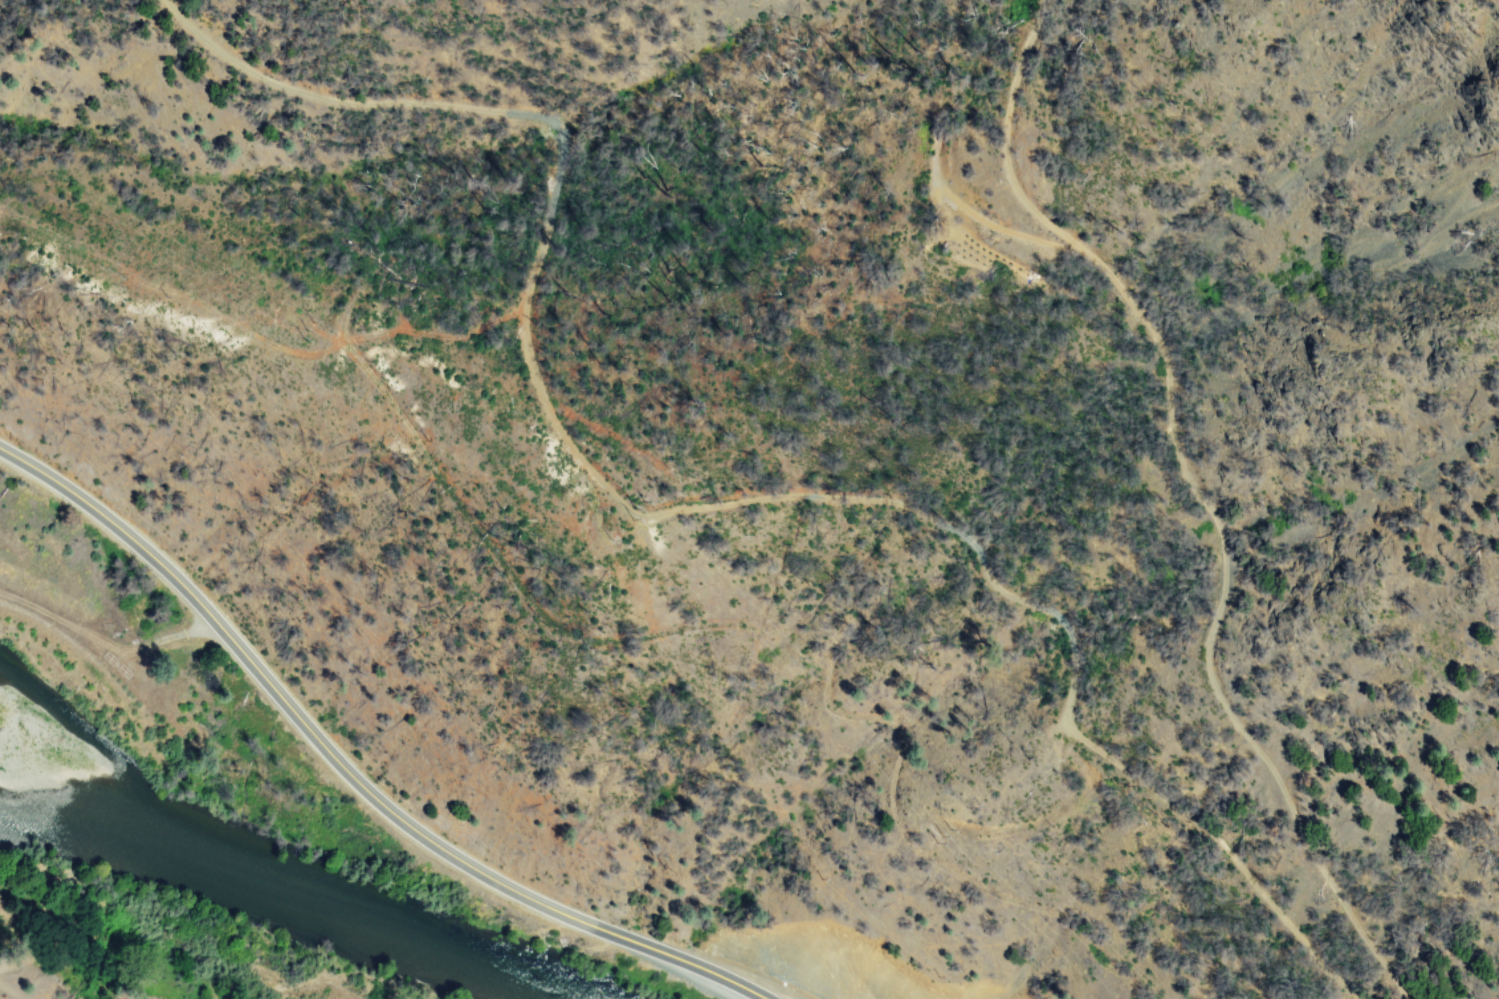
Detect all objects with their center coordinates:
road: (838, 251)
power tower: (305, 330)
road: (726, 486)
power tower: (639, 500)
road: (340, 766)
power tower: (933, 836)
river: (288, 900)

